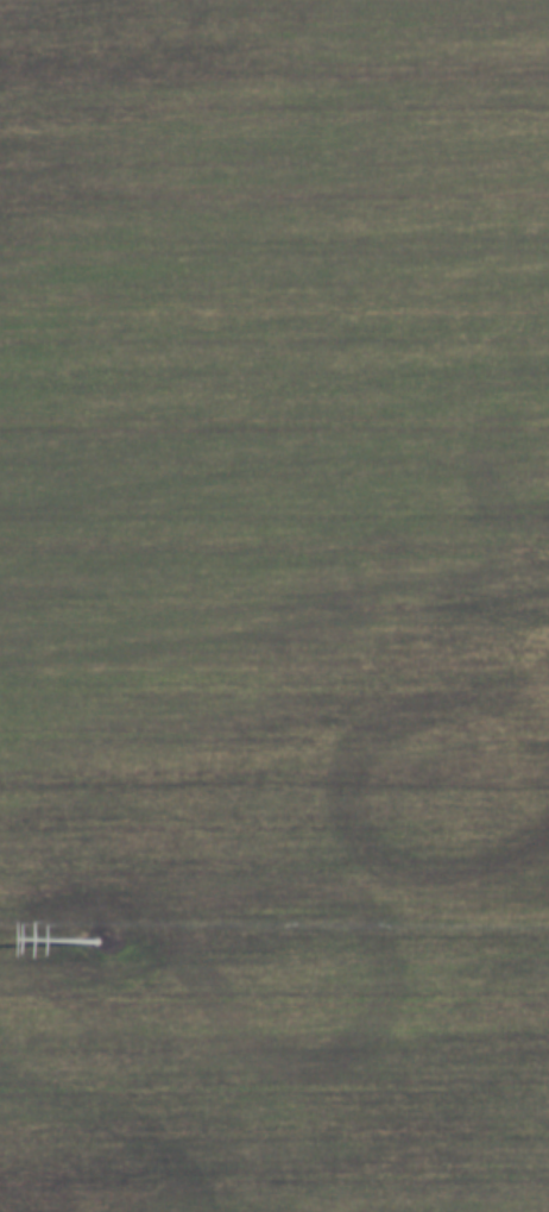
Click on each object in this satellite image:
power tower: (96, 943)

